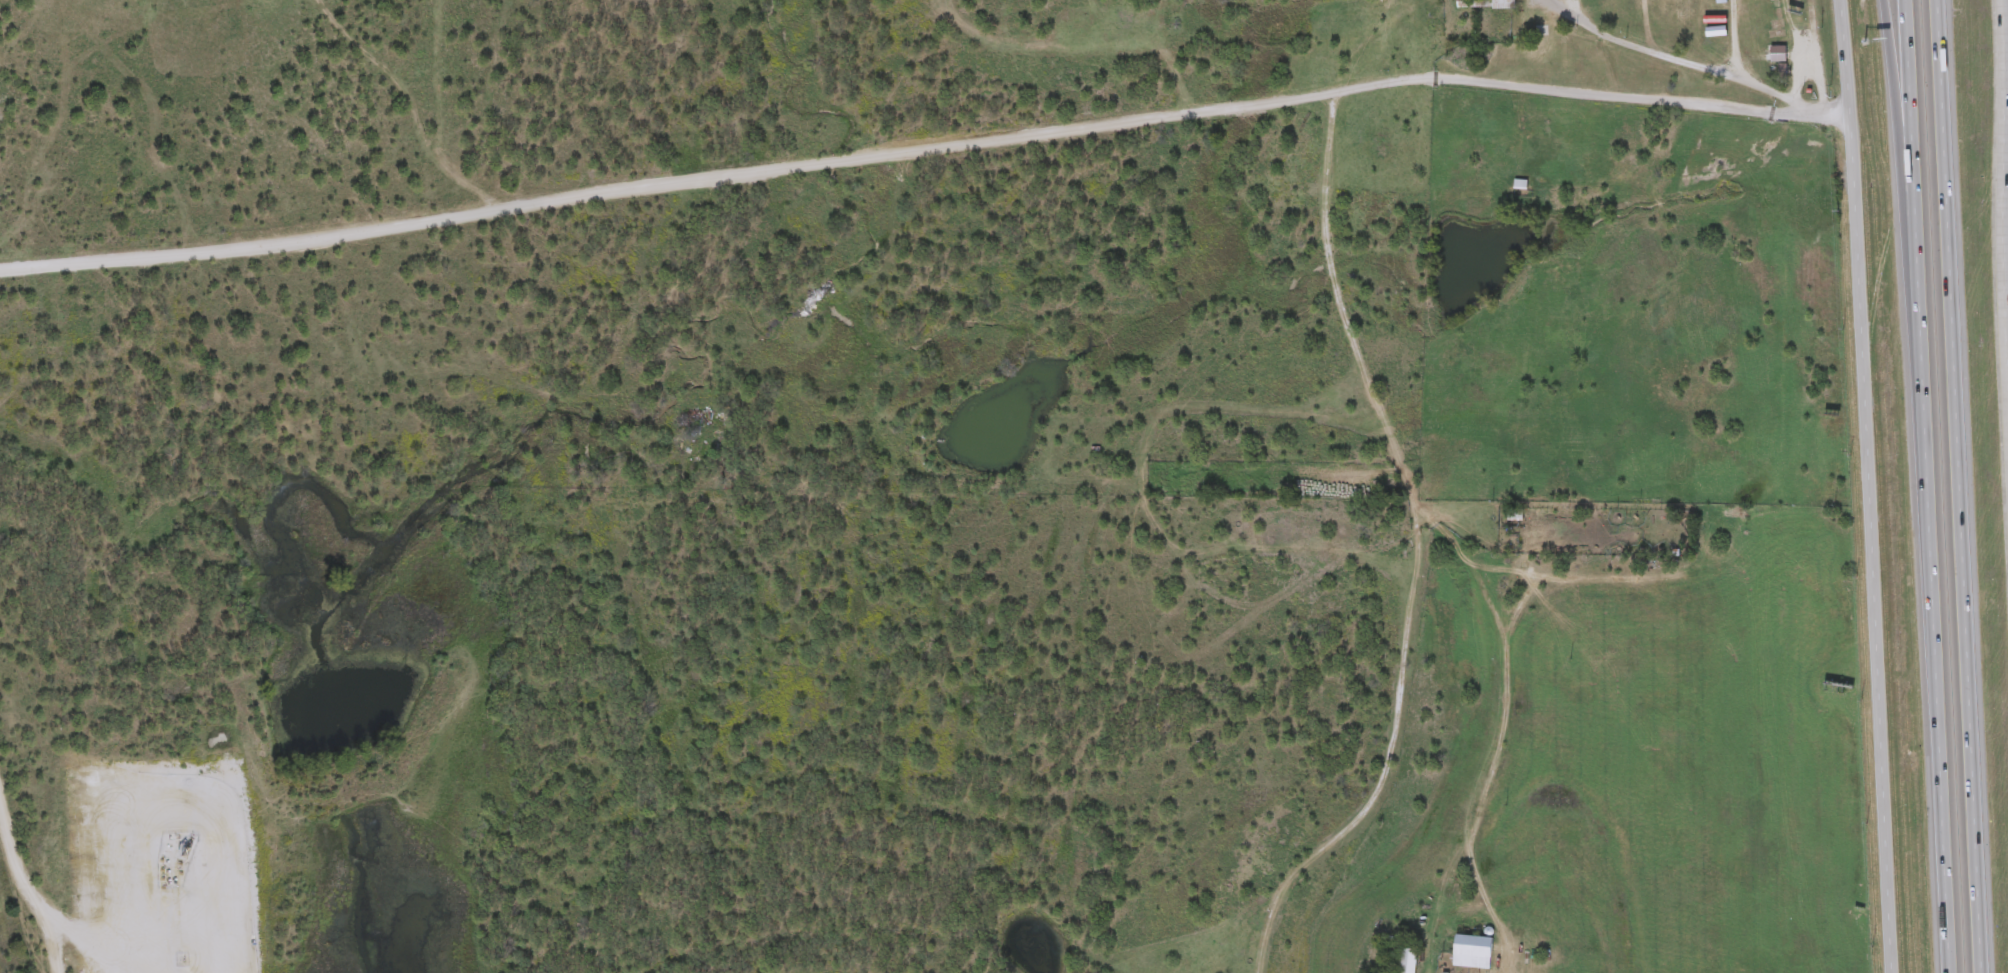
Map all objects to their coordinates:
building: (1506, 5)
road: (1811, 63)
road: (1693, 64)
road: (2006, 134)
road: (1901, 140)
road: (2007, 146)
road: (924, 151)
road: (1870, 486)
road: (1927, 486)
road: (1959, 486)
building: (1928, 515)
building: (1936, 847)
road: (21, 875)
road: (1436, 902)
road: (56, 952)
road: (150, 952)
building: (1475, 954)
building: (1410, 961)

